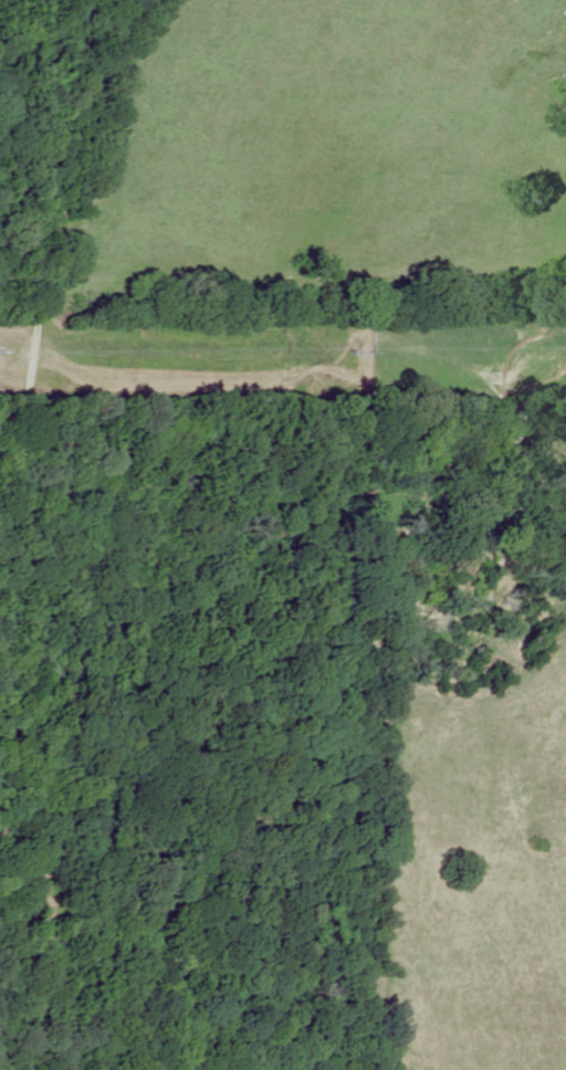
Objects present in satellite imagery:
road: (62, 310)

